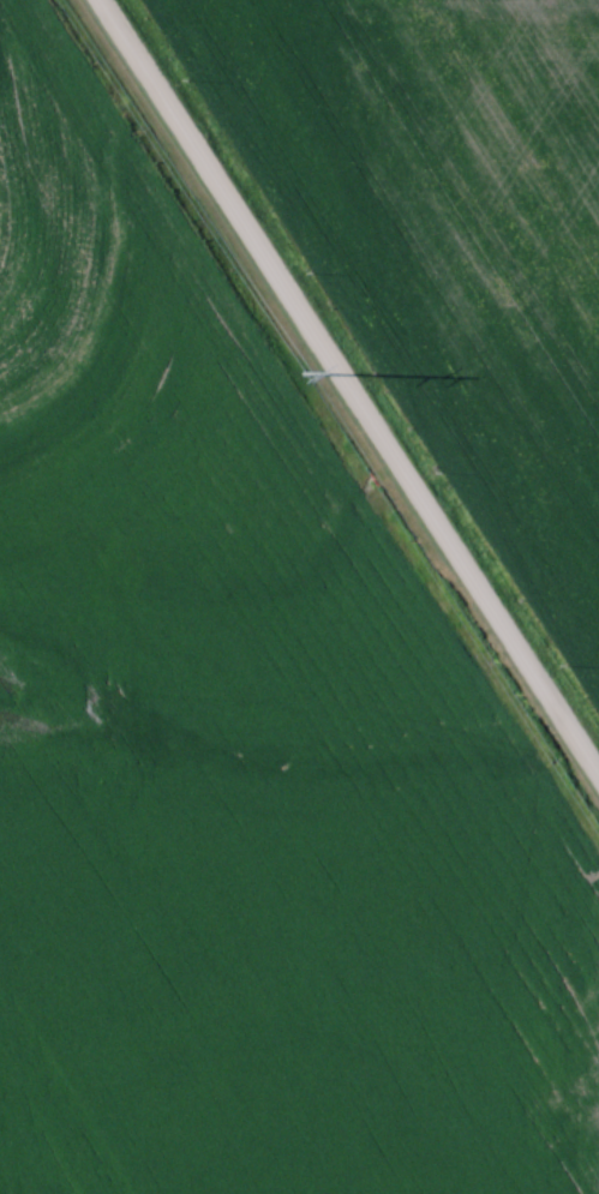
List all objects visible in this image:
power tower: (299, 372)
road: (347, 384)

